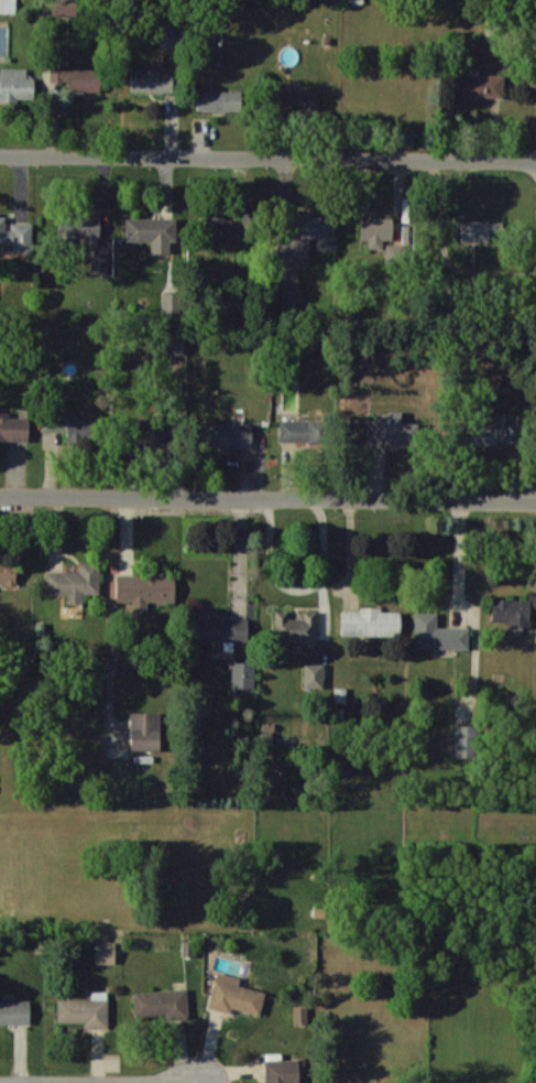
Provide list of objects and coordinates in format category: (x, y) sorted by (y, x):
building: (8, 7)
building: (62, 7)
building: (76, 77)
building: (151, 79)
building: (15, 84)
building: (480, 85)
building: (219, 100)
building: (297, 101)
road: (267, 160)
building: (79, 227)
building: (222, 228)
building: (375, 230)
building: (482, 230)
building: (151, 232)
building: (15, 236)
building: (307, 236)
building: (99, 263)
building: (292, 299)
building: (172, 301)
building: (173, 343)
building: (67, 424)
building: (12, 429)
building: (300, 431)
building: (393, 431)
building: (146, 433)
building: (225, 434)
road: (267, 499)
road: (321, 555)
road: (461, 559)
road: (270, 564)
building: (8, 573)
building: (75, 582)
building: (144, 588)
building: (511, 610)
building: (370, 621)
building: (295, 627)
building: (219, 629)
building: (437, 632)
building: (242, 674)
building: (314, 674)
building: (147, 730)
building: (463, 740)
building: (105, 952)
building: (234, 995)
building: (161, 1004)
building: (85, 1010)
building: (14, 1011)
building: (300, 1015)
building: (284, 1070)

